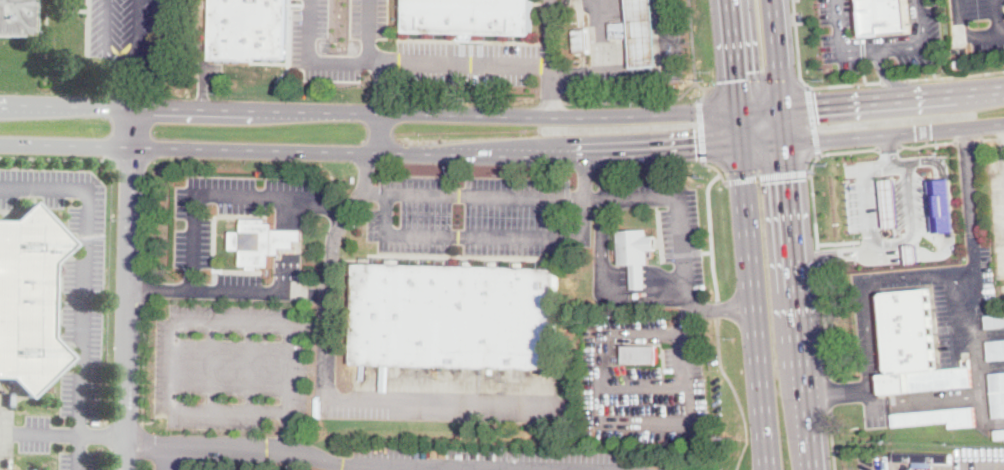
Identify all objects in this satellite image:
building: (887, 15)
building: (470, 16)
building: (17, 18)
parking lot: (924, 20)
parking lot: (978, 23)
parking lot: (134, 24)
building: (249, 29)
road: (368, 30)
building: (621, 30)
road: (1002, 31)
road: (978, 33)
building: (644, 34)
road: (906, 34)
parking lot: (336, 36)
parking lot: (863, 39)
road: (692, 40)
building: (582, 41)
road: (151, 42)
road: (841, 43)
road: (921, 43)
road: (107, 47)
road: (862, 48)
road: (730, 53)
road: (550, 58)
road: (316, 59)
parking lot: (466, 62)
road: (467, 62)
road: (601, 62)
road: (671, 70)
road: (864, 71)
road: (782, 72)
road: (888, 73)
road: (955, 75)
traffic signals: (733, 79)
road: (893, 79)
road: (802, 80)
road: (753, 83)
road: (126, 84)
road: (383, 86)
road: (894, 93)
road: (644, 98)
traffic signals: (814, 101)
road: (760, 105)
road: (367, 112)
road: (811, 119)
road: (127, 127)
road: (986, 127)
road: (700, 129)
road: (382, 133)
road: (879, 136)
road: (992, 136)
road: (967, 139)
road: (926, 141)
road: (887, 144)
traffic signals: (696, 152)
road: (394, 153)
road: (59, 158)
road: (919, 159)
road: (120, 163)
road: (710, 164)
road: (808, 168)
road: (765, 174)
road: (585, 177)
traffic signals: (792, 179)
parking lot: (31, 184)
road: (868, 185)
road: (568, 195)
building: (889, 201)
building: (941, 204)
road: (943, 204)
parking lot: (233, 207)
road: (190, 211)
parking lot: (471, 213)
road: (912, 213)
parking lot: (998, 214)
parking lot: (663, 217)
road: (482, 235)
road: (711, 236)
building: (263, 242)
road: (287, 243)
road: (817, 252)
building: (912, 252)
building: (636, 253)
road: (837, 253)
road: (918, 256)
road: (83, 266)
road: (330, 273)
road: (905, 273)
road: (602, 276)
road: (157, 286)
parking lot: (238, 286)
road: (751, 288)
road: (308, 292)
parking lot: (81, 294)
building: (639, 295)
building: (1000, 297)
building: (28, 298)
parking lot: (959, 304)
road: (803, 306)
road: (713, 307)
road: (126, 308)
road: (717, 310)
building: (456, 316)
road: (823, 317)
road: (183, 318)
parking lot: (869, 321)
building: (994, 321)
road: (644, 328)
road: (979, 335)
parking lot: (640, 339)
building: (915, 347)
building: (996, 350)
building: (641, 355)
road: (143, 362)
parking lot: (228, 365)
road: (211, 368)
road: (250, 369)
road: (643, 388)
road: (829, 393)
road: (736, 394)
building: (997, 394)
parking lot: (647, 402)
road: (690, 402)
road: (447, 404)
building: (937, 417)
road: (154, 418)
road: (38, 433)
parking lot: (21, 434)
road: (101, 434)
building: (999, 435)
road: (141, 441)
road: (832, 441)
road: (265, 445)
road: (76, 452)
road: (167, 456)
parking lot: (486, 457)
parking lot: (979, 457)
building: (923, 459)
parking lot: (75, 460)
parking lot: (874, 461)
road: (509, 464)
road: (140, 465)
road: (986, 467)
building: (25, 469)

